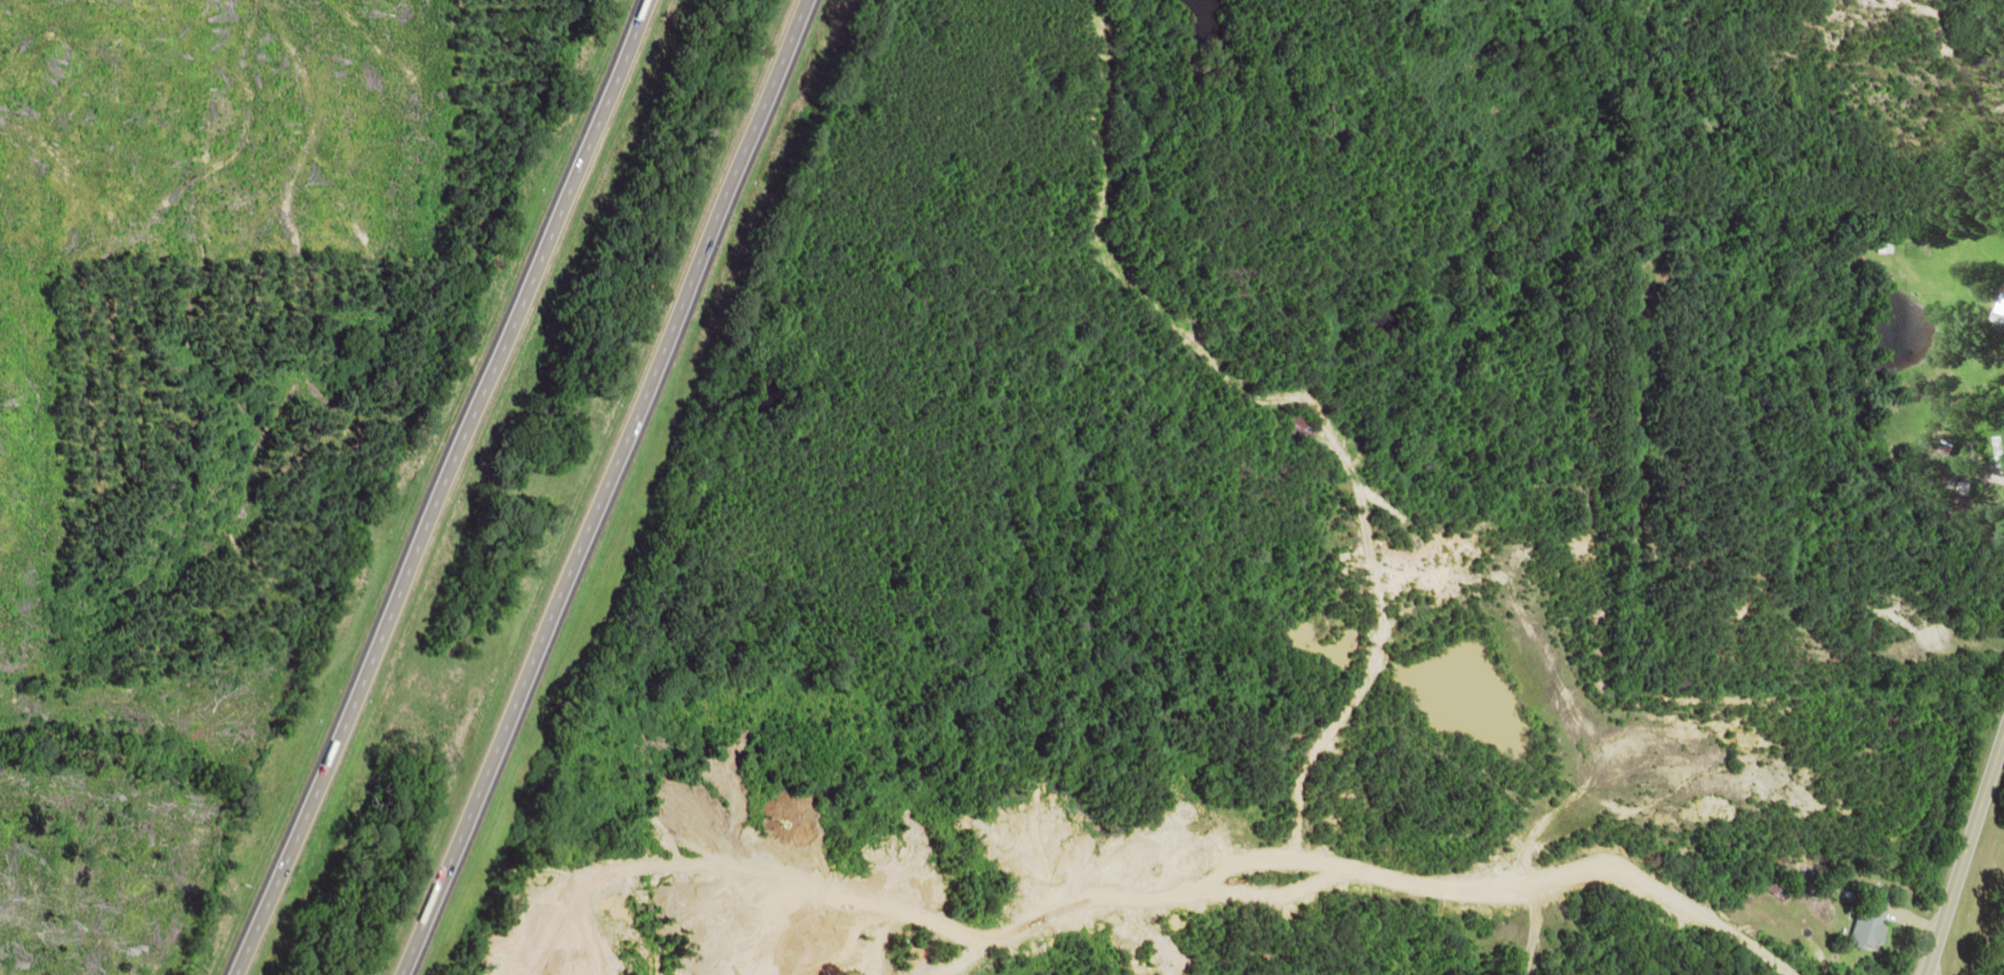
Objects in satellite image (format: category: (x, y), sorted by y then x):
building: (1879, 243)
building: (1997, 318)
road: (438, 487)
road: (603, 487)
road: (1963, 854)
building: (1863, 924)

